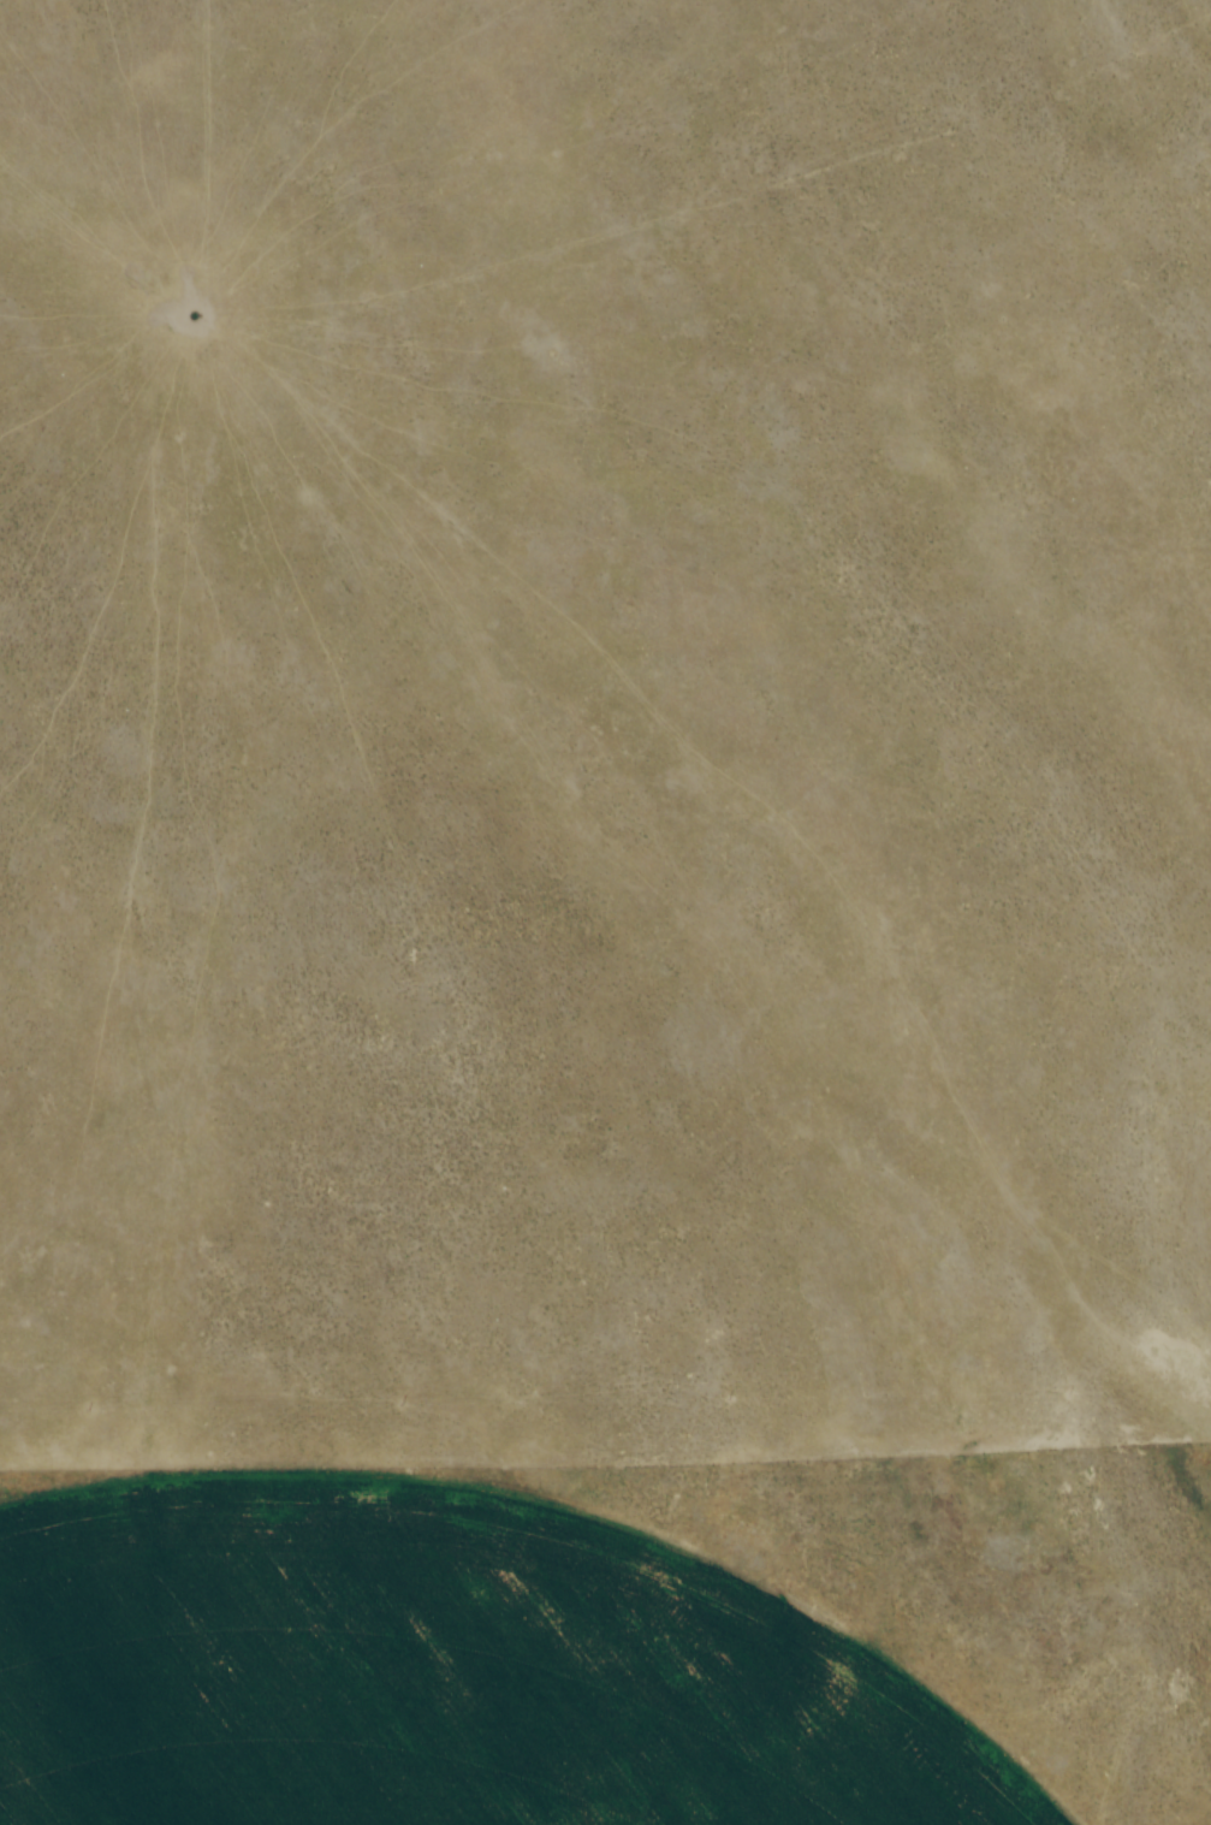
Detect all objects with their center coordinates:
crop: (425, 1676)

